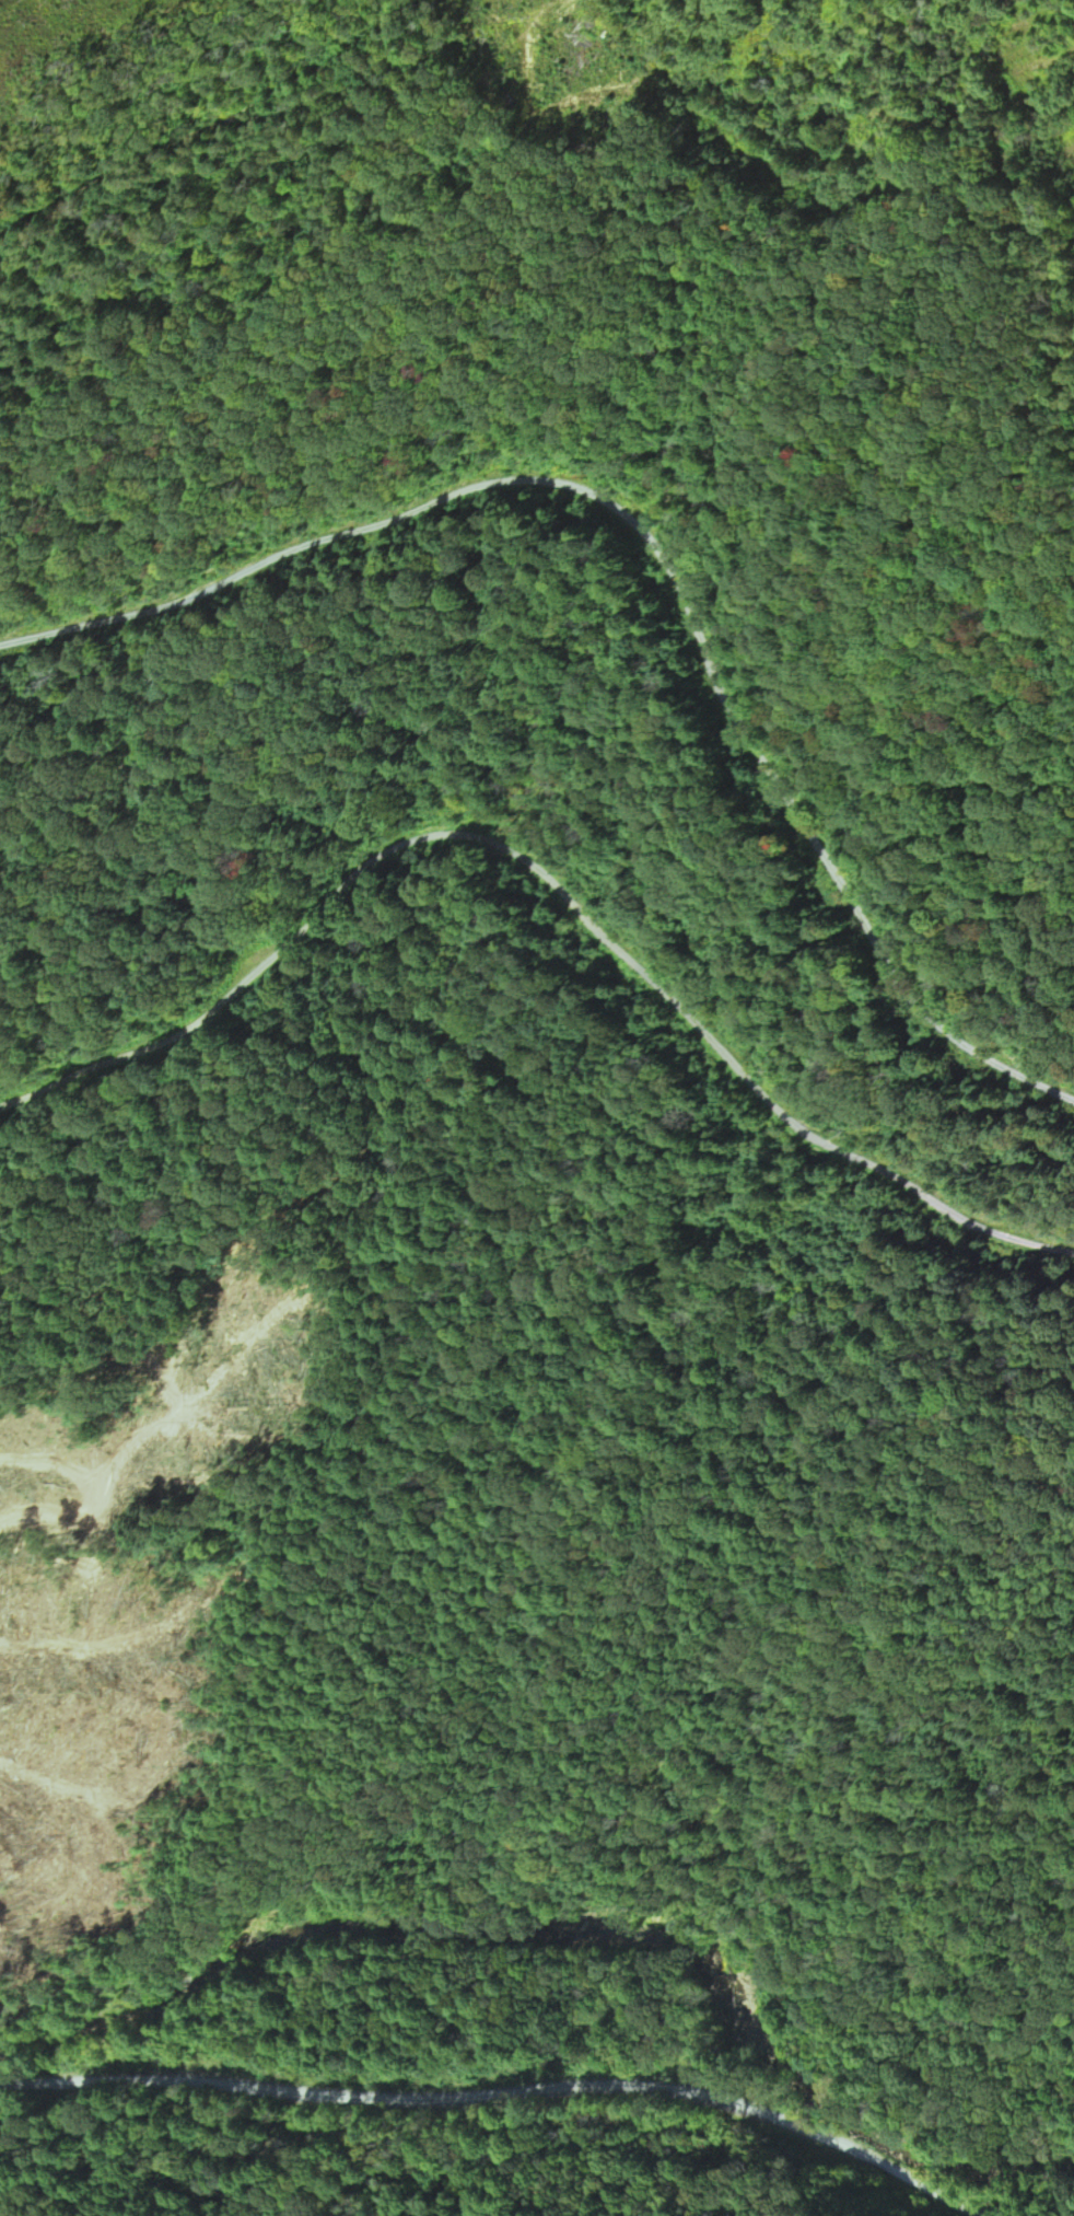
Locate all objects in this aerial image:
road: (533, 2092)

